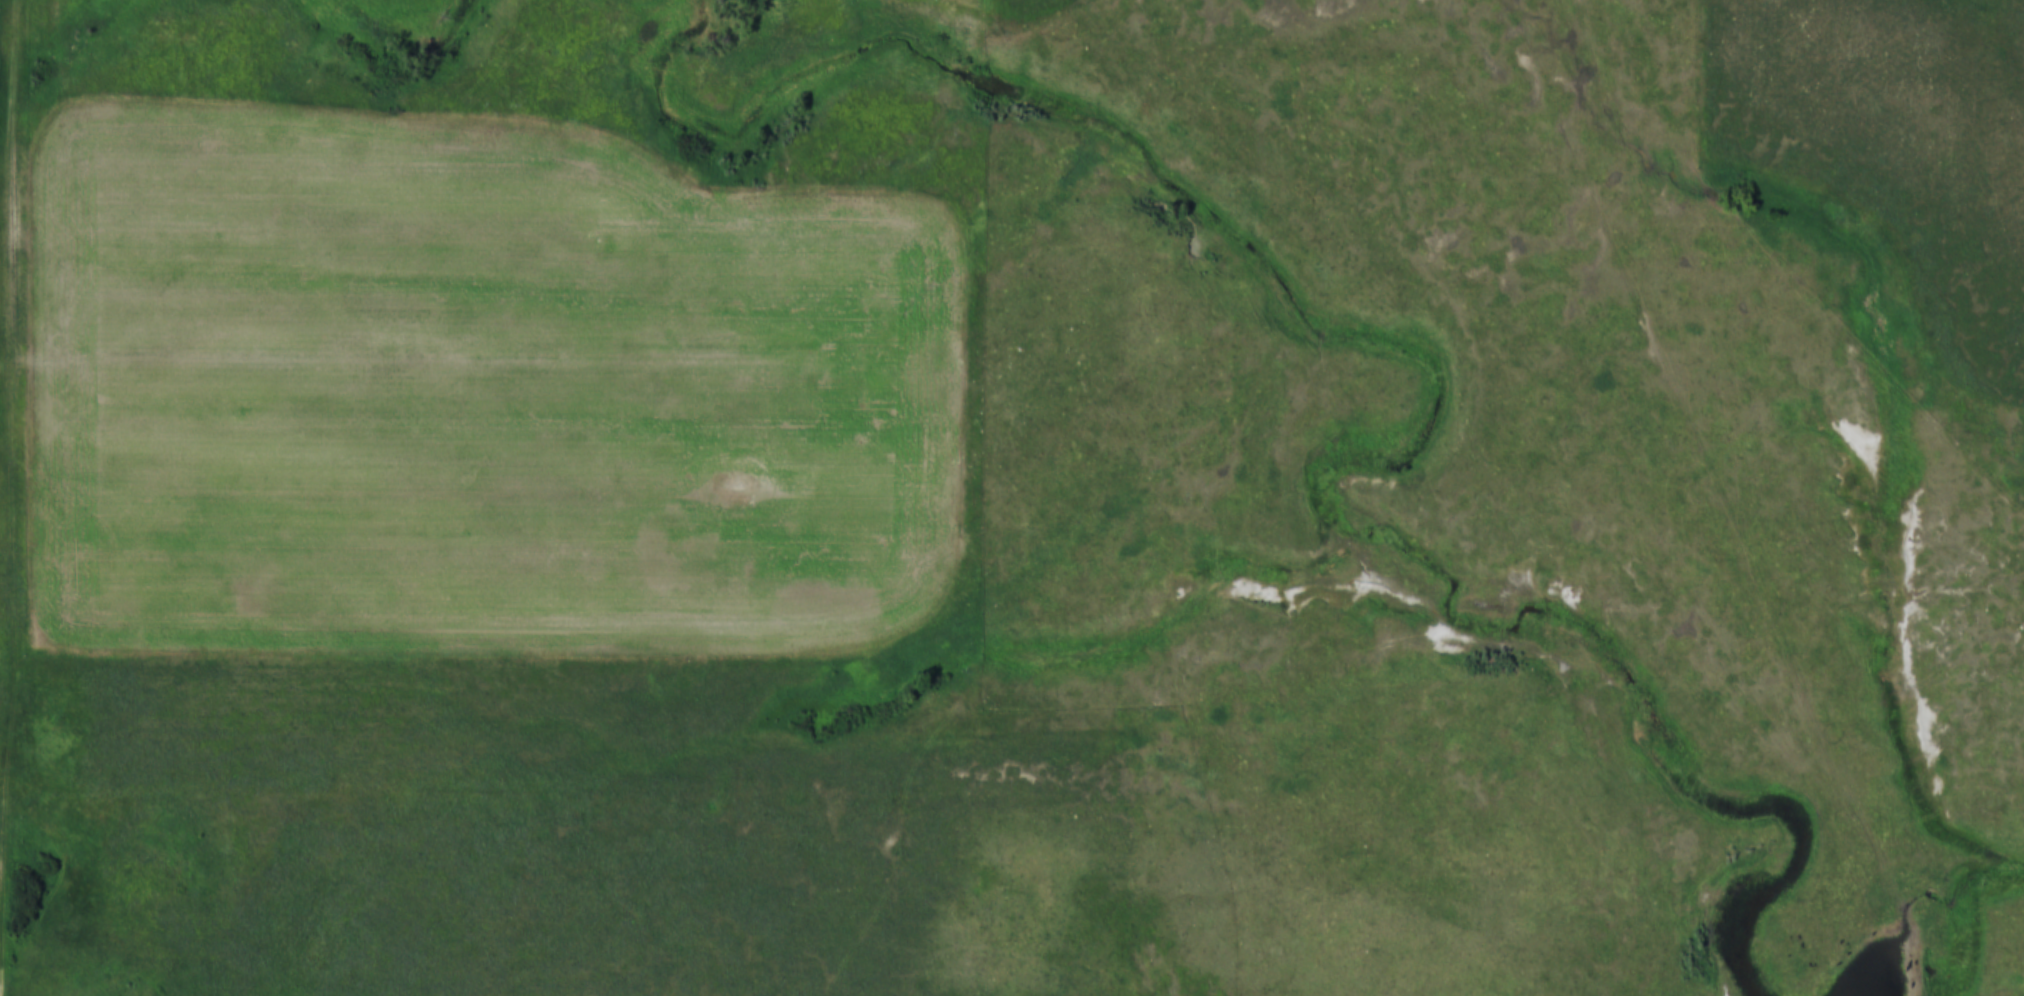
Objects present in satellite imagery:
road: (7, 497)
road: (2, 733)

